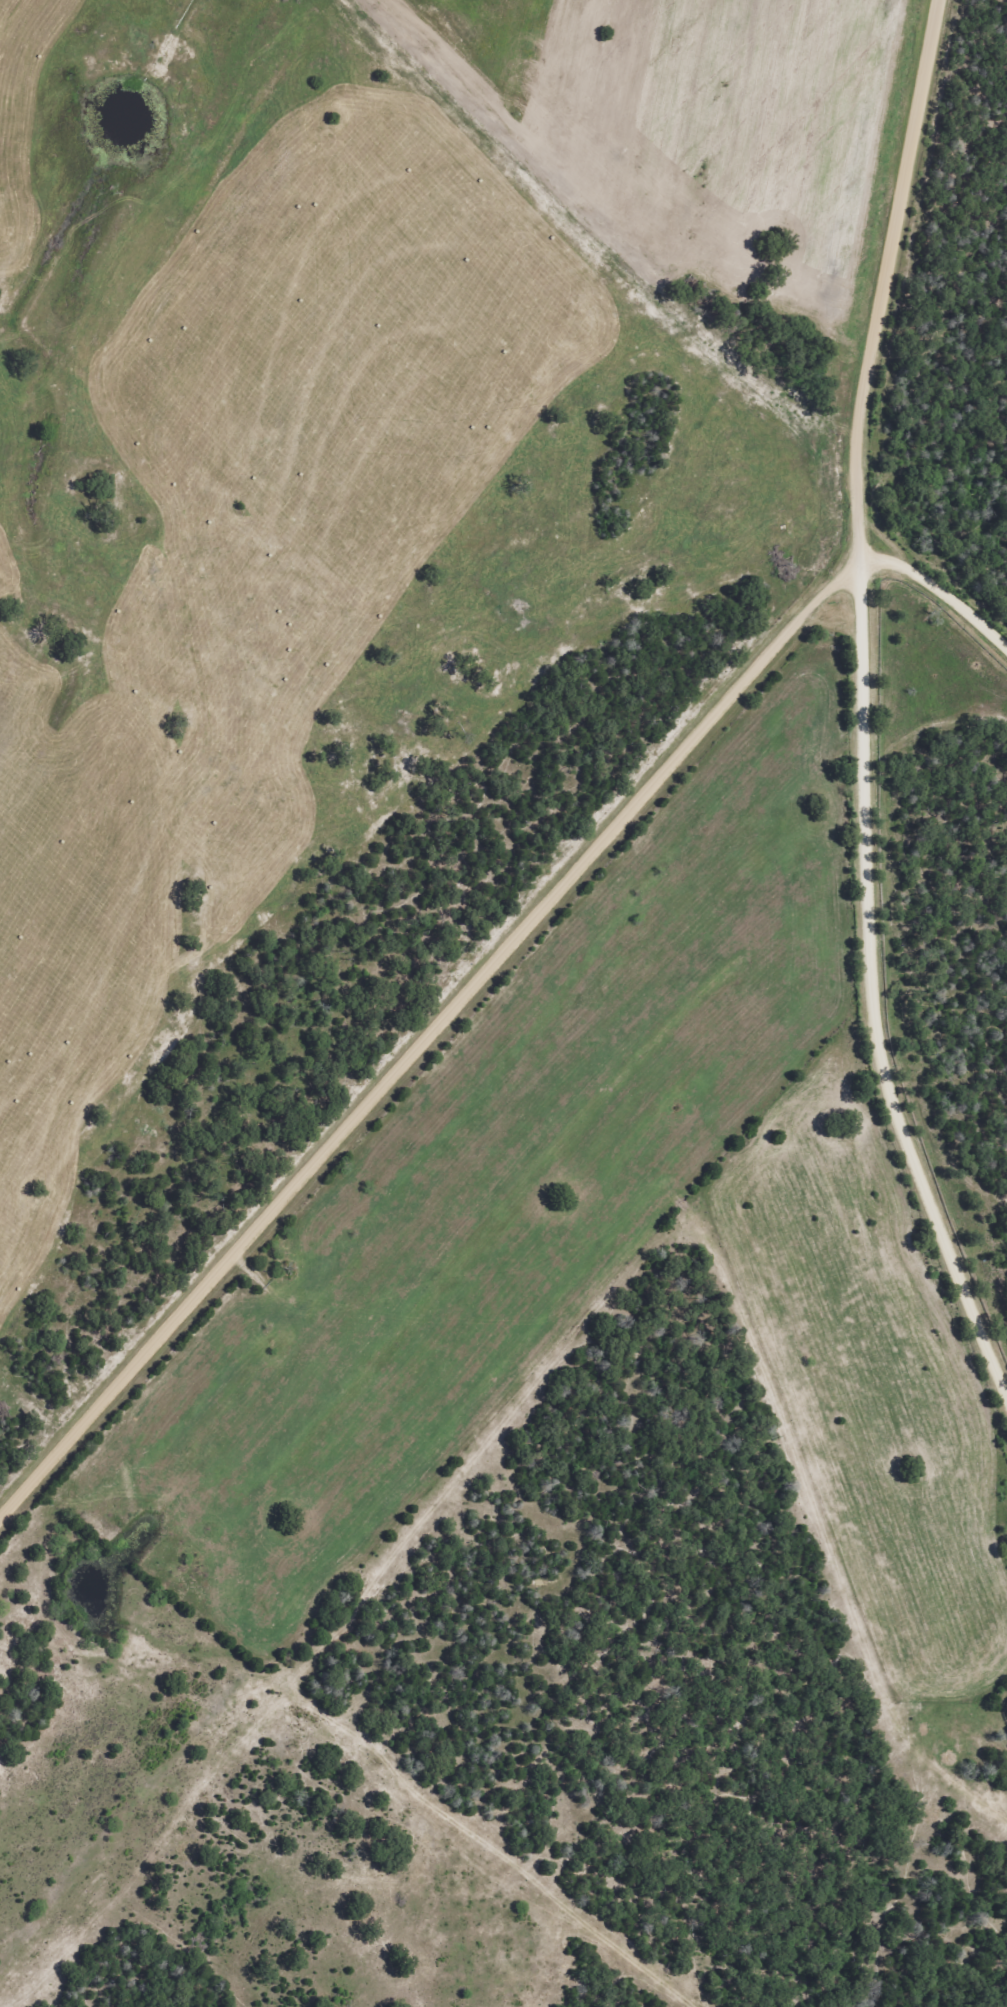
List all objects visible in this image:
road: (960, 138)
road: (940, 590)
road: (865, 705)
road: (427, 1033)

